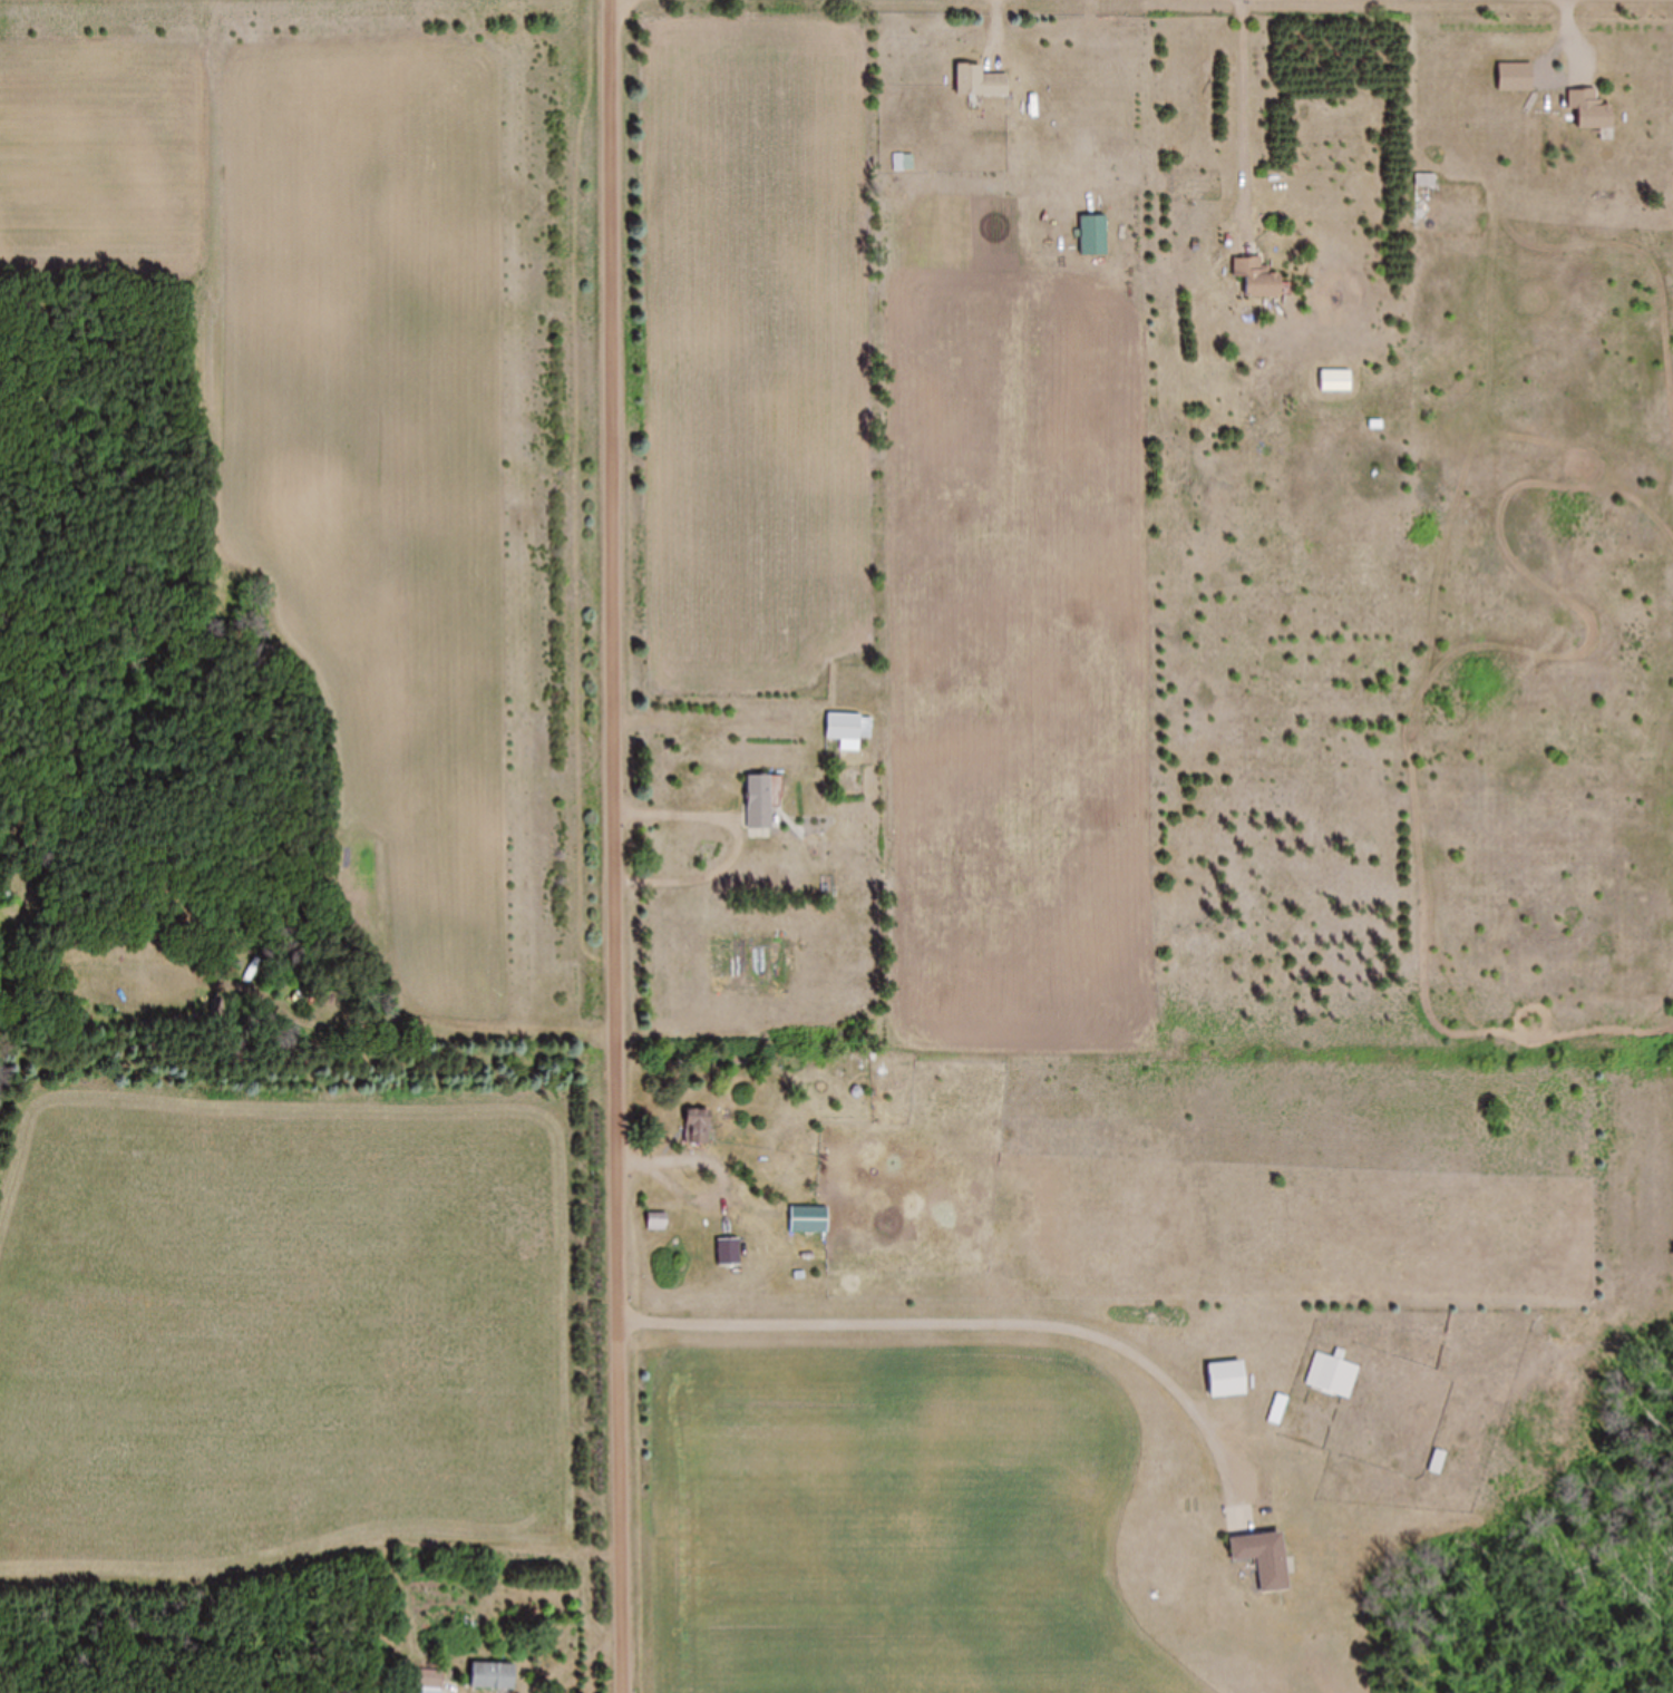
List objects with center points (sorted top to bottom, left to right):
building: (980, 84)
road: (1245, 105)
building: (1591, 110)
building: (1426, 181)
building: (1095, 235)
building: (1257, 279)
building: (1335, 381)
building: (848, 731)
building: (758, 802)
road: (619, 846)
road: (357, 901)
building: (217, 1008)
building: (697, 1129)
building: (808, 1220)
building: (656, 1223)
road: (502, 1297)
road: (970, 1320)
building: (1333, 1375)
building: (1226, 1379)
building: (1437, 1462)
building: (1263, 1558)
building: (490, 1675)
building: (428, 1681)

